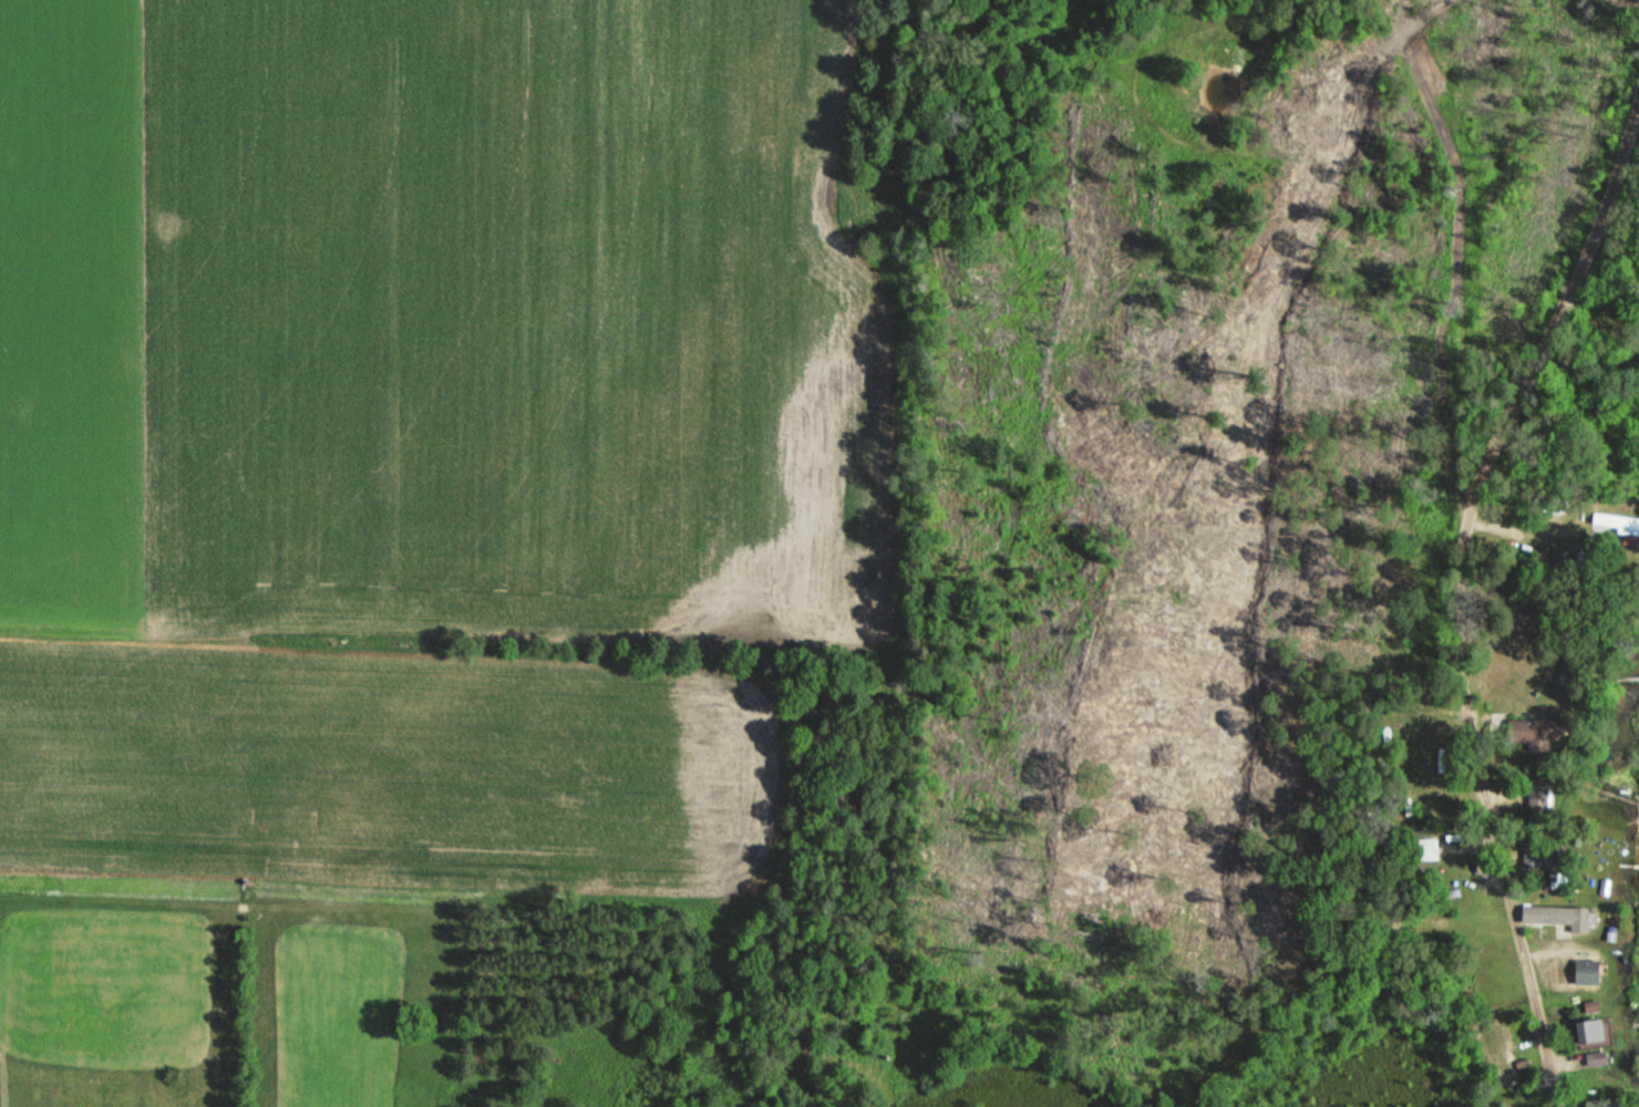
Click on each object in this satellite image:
road: (1631, 2)
building: (1636, 359)
building: (1616, 523)
building: (1578, 560)
road: (1455, 589)
building: (1537, 733)
building: (1539, 807)
building: (1429, 850)
building: (1538, 855)
building: (1558, 918)
building: (1587, 972)
building: (1590, 1032)
building: (1596, 1059)
building: (1604, 1103)

